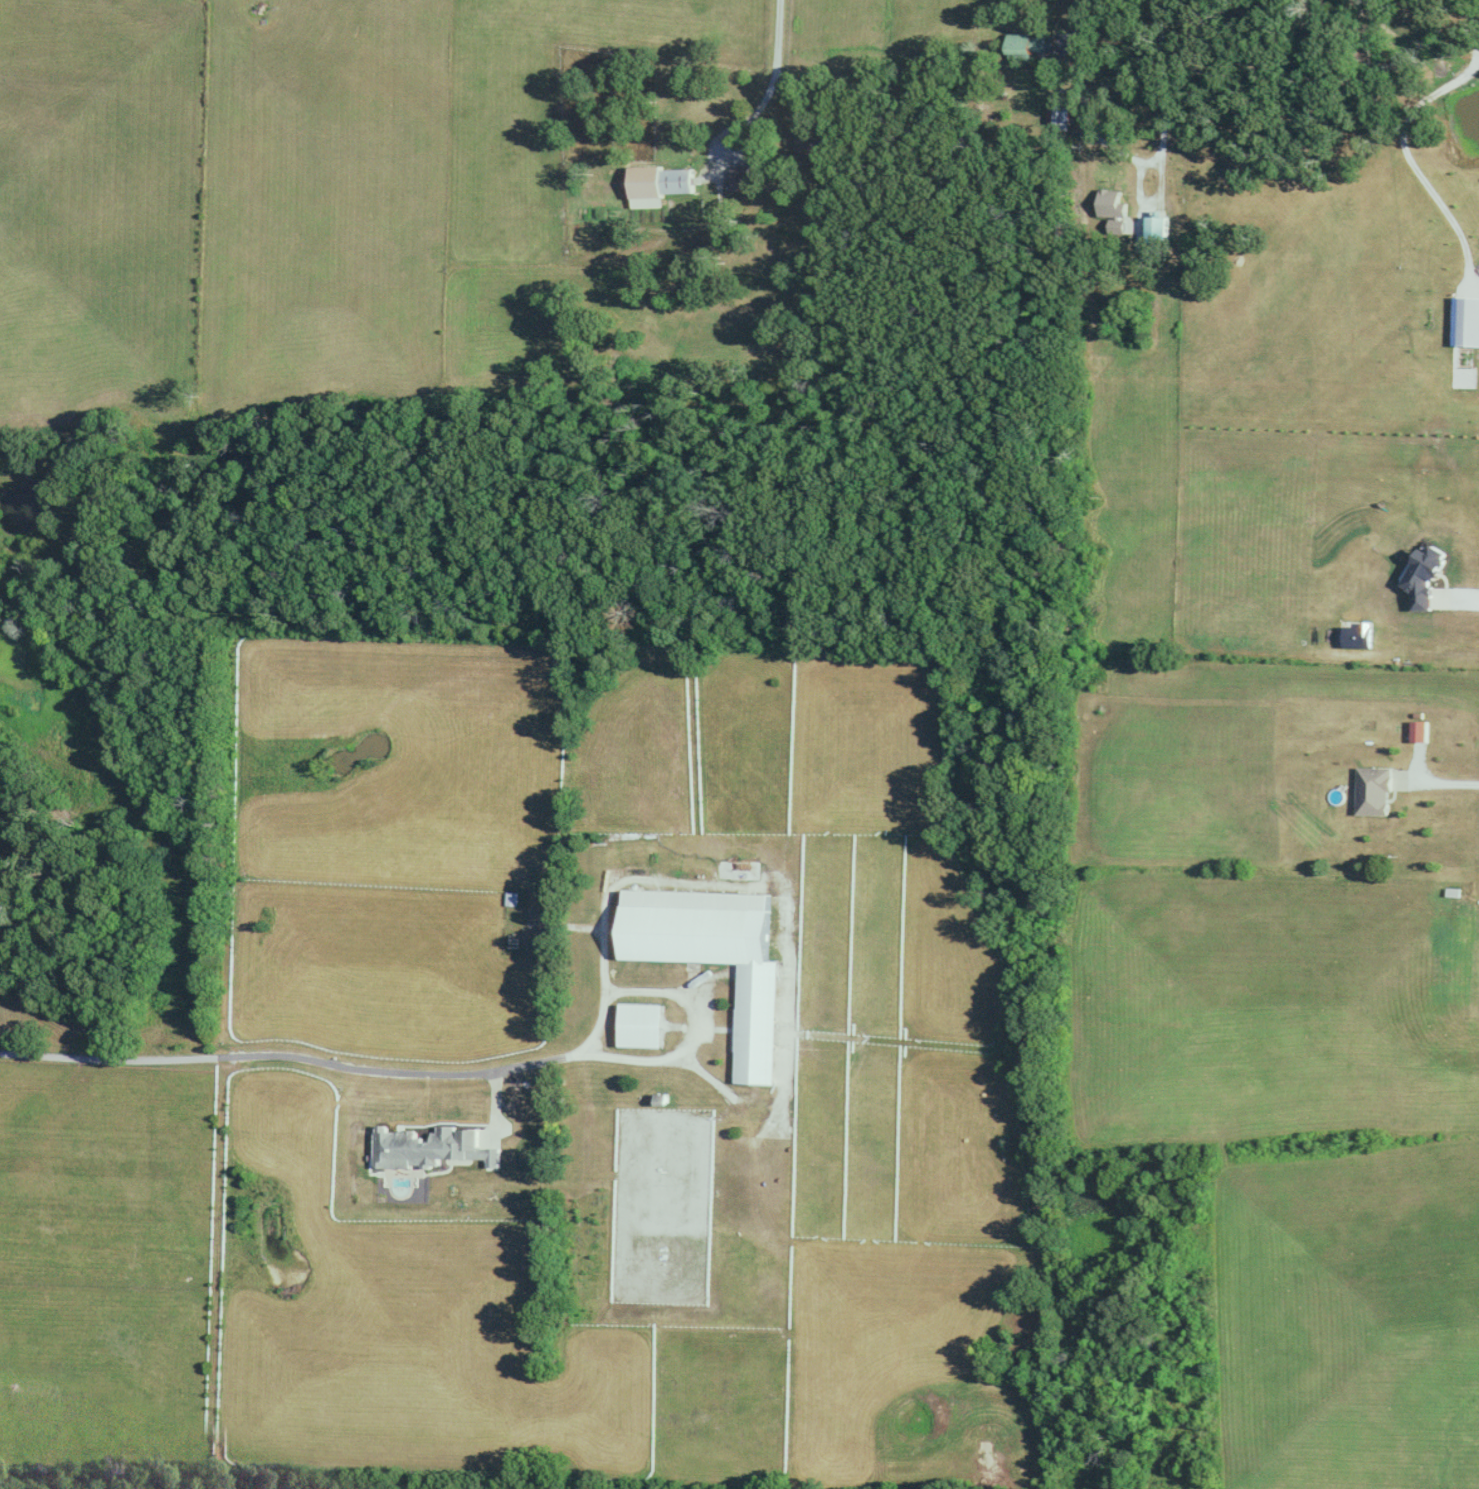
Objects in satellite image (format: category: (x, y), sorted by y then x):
building: (1024, 45)
road: (775, 54)
building: (1058, 115)
building: (815, 144)
road: (1131, 156)
building: (739, 179)
building: (659, 184)
building: (1111, 203)
building: (1155, 237)
building: (1469, 321)
road: (1455, 599)
road: (1436, 782)
building: (3, 904)
building: (535, 922)
building: (719, 957)
building: (645, 1025)
road: (119, 1055)
road: (564, 1056)
building: (433, 1147)

